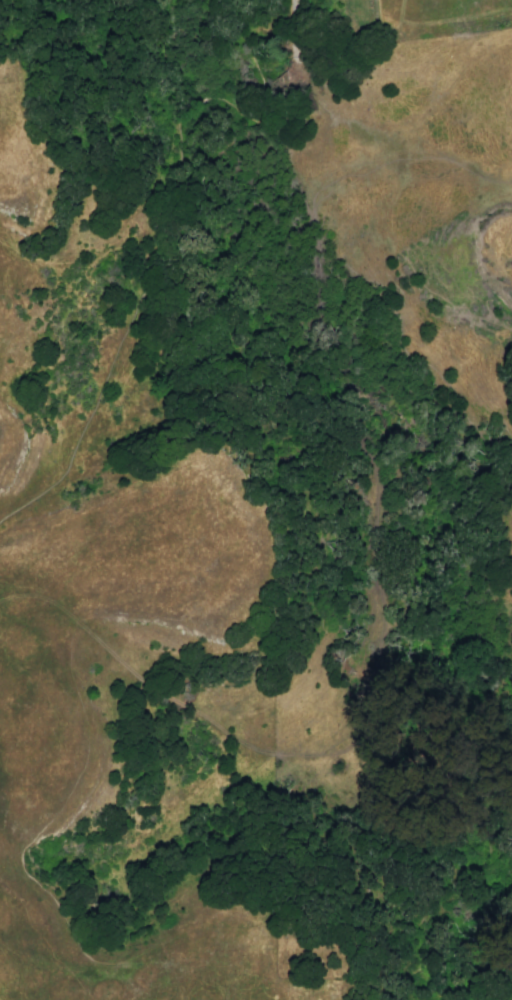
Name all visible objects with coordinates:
road: (292, 29)
road: (260, 92)
road: (189, 103)
road: (124, 329)
road: (202, 969)
road: (299, 989)

